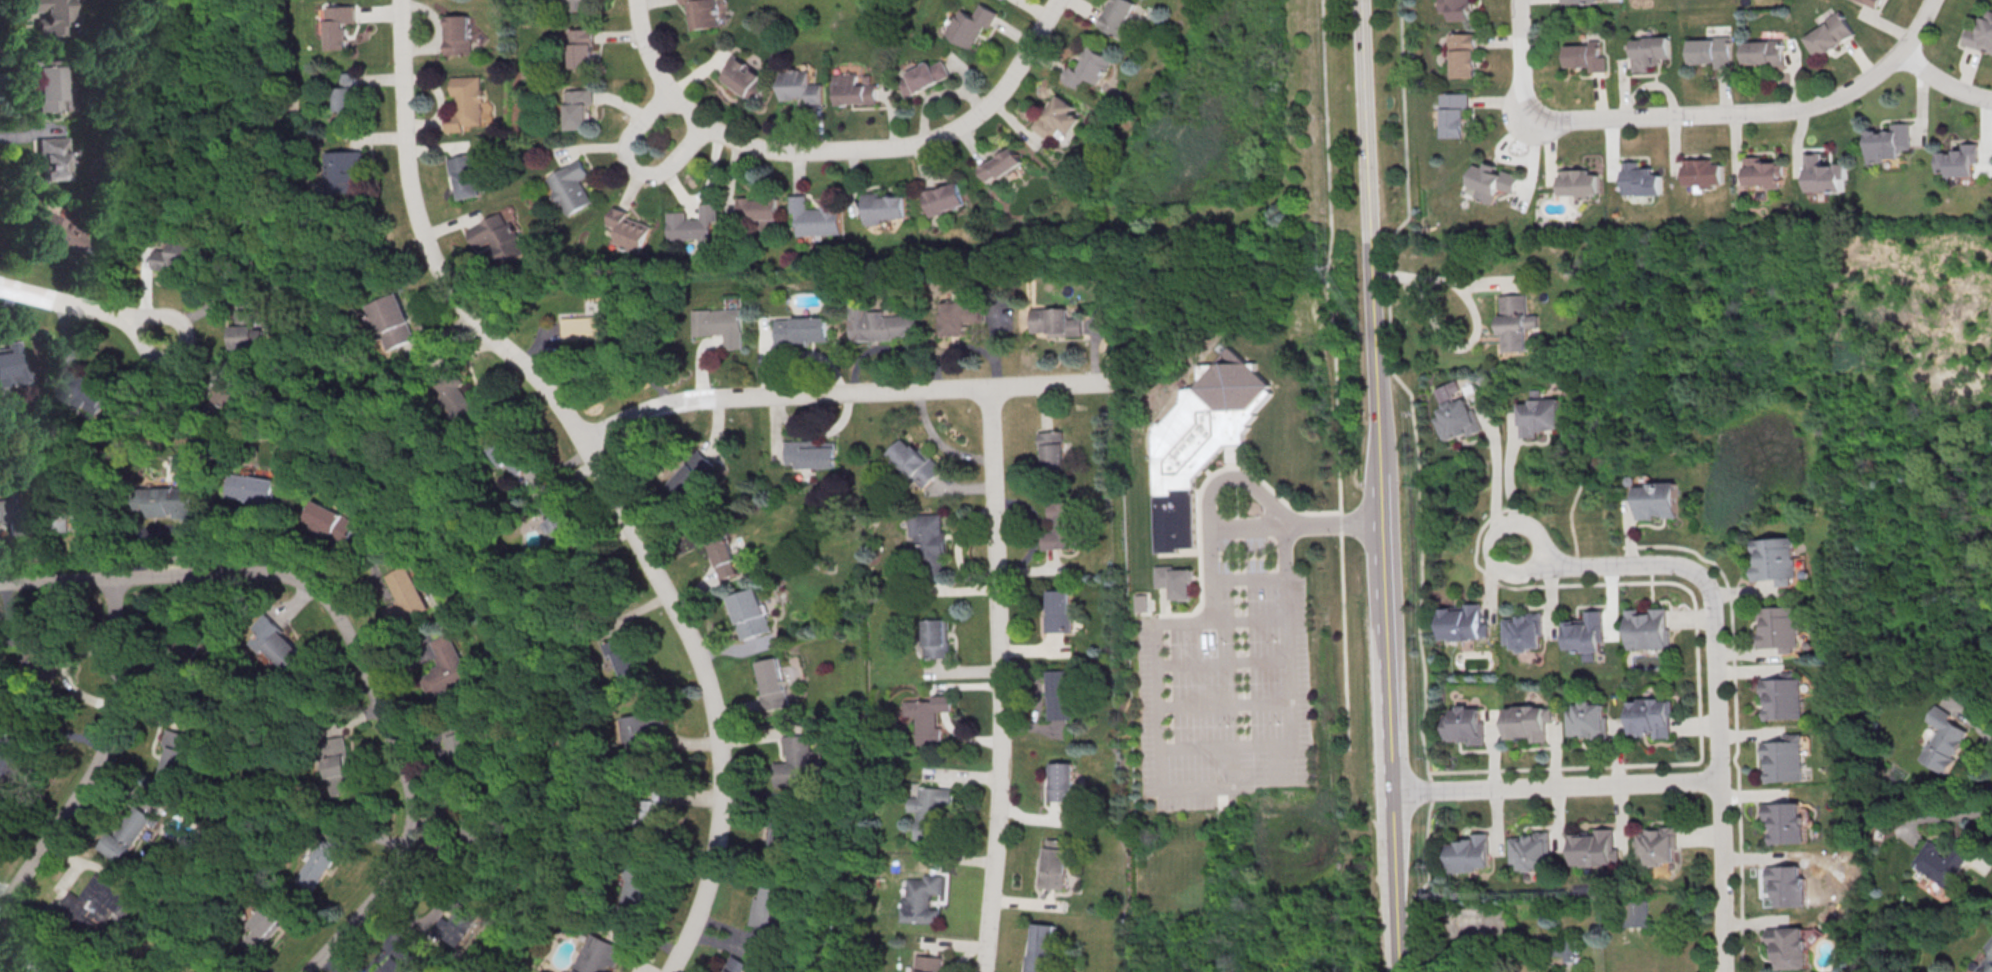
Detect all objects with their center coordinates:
building: (1006, 0)
building: (1578, 1)
building: (1872, 2)
building: (579, 5)
building: (1456, 8)
building: (702, 13)
building: (58, 16)
building: (1119, 17)
park: (834, 18)
building: (971, 24)
building: (338, 25)
building: (463, 32)
building: (1981, 33)
building: (1829, 34)
building: (584, 45)
building: (1711, 50)
building: (1763, 51)
building: (1649, 52)
building: (1462, 54)
building: (1585, 55)
road: (651, 58)
building: (1089, 67)
building: (743, 77)
building: (923, 77)
road: (1363, 79)
building: (51, 80)
road: (1943, 81)
building: (800, 86)
building: (854, 88)
building: (349, 95)
building: (470, 101)
building: (579, 108)
building: (1453, 114)
road: (1695, 114)
building: (1056, 118)
building: (1889, 142)
road: (899, 145)
building: (55, 155)
building: (1959, 160)
building: (1001, 164)
road: (630, 165)
building: (337, 166)
building: (1763, 171)
building: (1702, 172)
building: (1824, 173)
building: (471, 174)
building: (1639, 179)
building: (1492, 181)
building: (1578, 182)
building: (572, 183)
building: (943, 198)
building: (883, 206)
building: (762, 210)
building: (817, 216)
building: (694, 224)
building: (60, 229)
building: (628, 230)
building: (502, 237)
building: (180, 250)
road: (81, 306)
building: (957, 313)
building: (1516, 317)
building: (398, 319)
road: (1476, 319)
building: (877, 323)
building: (1055, 323)
building: (723, 324)
building: (246, 326)
building: (596, 326)
building: (803, 329)
road: (600, 360)
building: (12, 362)
road: (1335, 373)
building: (1448, 390)
building: (94, 391)
road: (843, 392)
building: (463, 397)
building: (223, 401)
building: (1539, 415)
building: (1456, 419)
building: (1199, 440)
building: (1047, 450)
building: (514, 453)
building: (810, 455)
building: (912, 462)
road: (601, 473)
building: (695, 474)
road: (1414, 482)
road: (1251, 484)
building: (250, 488)
road: (1508, 493)
building: (167, 500)
building: (1657, 500)
building: (12, 511)
building: (556, 515)
building: (84, 516)
building: (332, 518)
building: (1058, 525)
road: (1278, 526)
building: (926, 540)
building: (723, 552)
building: (1775, 559)
road: (1384, 565)
road: (1250, 577)
building: (1172, 580)
building: (595, 581)
building: (408, 594)
building: (1137, 602)
building: (1055, 611)
building: (753, 613)
road: (1251, 622)
building: (1462, 622)
road: (1182, 624)
building: (1780, 626)
building: (1648, 629)
building: (1523, 630)
building: (1584, 634)
road: (351, 638)
building: (932, 638)
building: (278, 642)
building: (188, 648)
building: (628, 652)
building: (44, 659)
road: (1216, 662)
building: (448, 667)
parking lot: (1229, 668)
road: (1715, 676)
road: (998, 679)
building: (774, 681)
building: (1057, 691)
building: (1783, 698)
road: (1217, 707)
building: (926, 715)
building: (1652, 716)
road: (1968, 719)
building: (1589, 720)
building: (1528, 722)
building: (1465, 725)
building: (641, 726)
road: (1149, 740)
building: (1941, 740)
road: (1252, 747)
building: (467, 749)
building: (178, 754)
building: (21, 759)
road: (103, 760)
building: (796, 760)
building: (1784, 760)
building: (336, 764)
building: (1058, 780)
road: (1556, 785)
building: (931, 811)
building: (657, 813)
road: (1936, 817)
building: (1786, 822)
building: (480, 827)
building: (785, 831)
building: (128, 834)
building: (1658, 845)
building: (1595, 848)
building: (1532, 850)
building: (1470, 853)
building: (321, 858)
building: (1942, 861)
building: (1051, 862)
building: (642, 885)
building: (1788, 885)
building: (919, 897)
building: (772, 901)
building: (96, 904)
building: (1635, 913)
building: (460, 916)
building: (266, 927)
building: (1037, 946)
building: (1789, 947)
building: (1572, 950)
building: (601, 954)
building: (55, 957)
building: (1986, 957)
building: (926, 963)
building: (393, 965)
building: (740, 965)
building: (215, 966)

